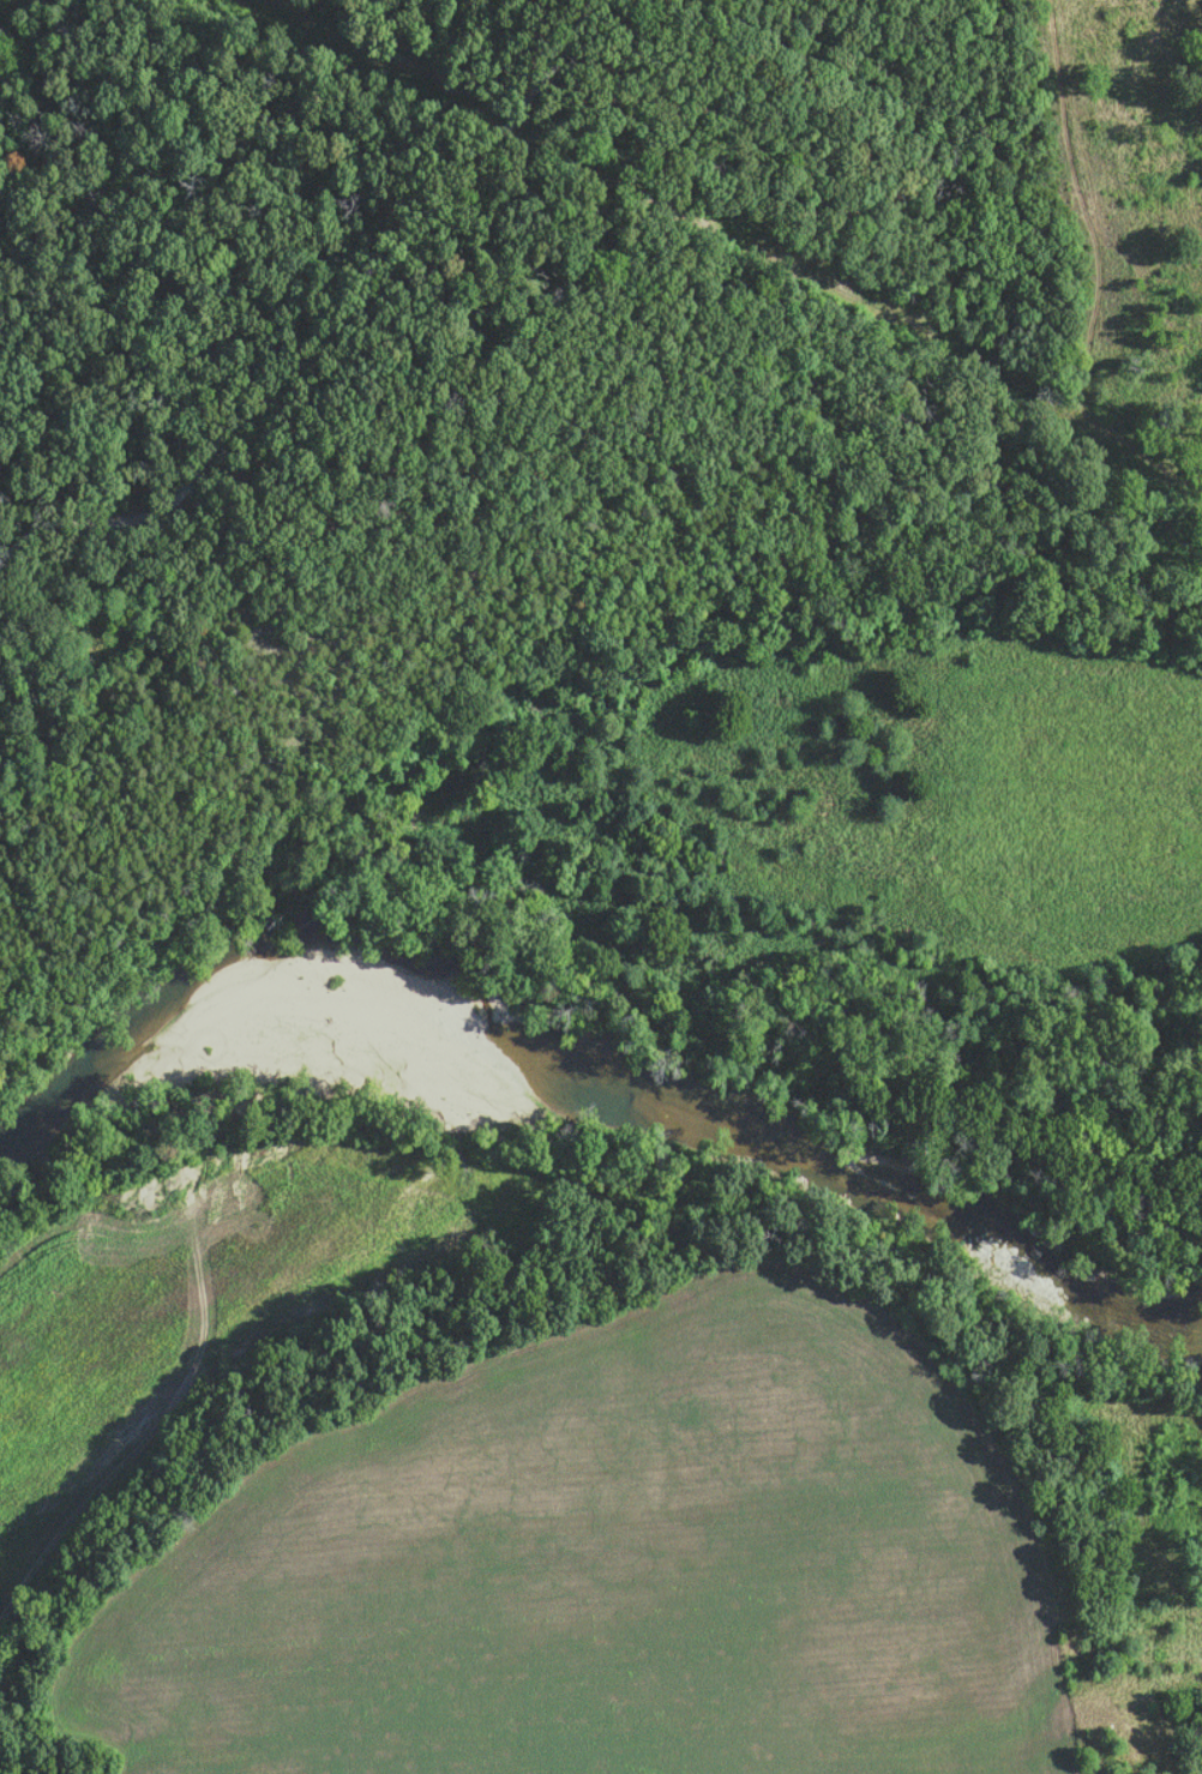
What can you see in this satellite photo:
road: (327, 320)
river: (576, 1074)
crop: (194, 1299)

